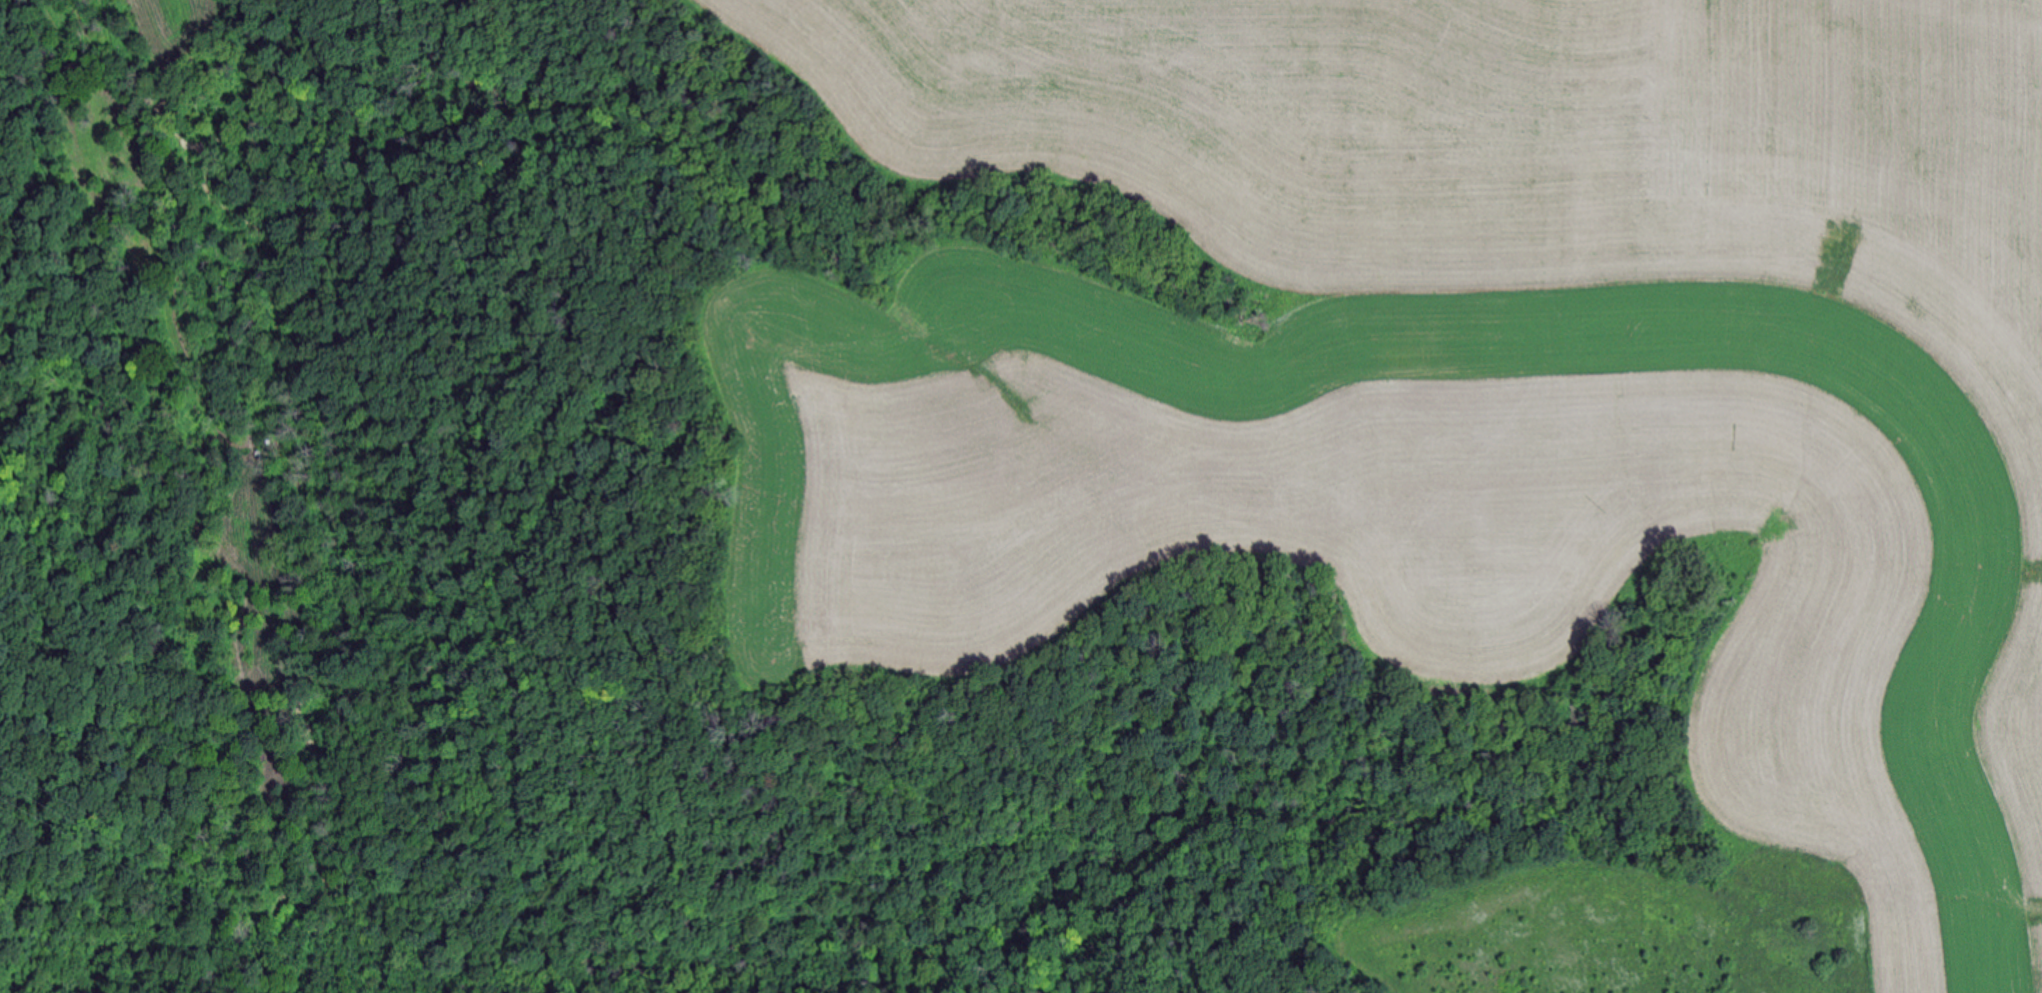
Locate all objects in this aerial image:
building: (242, 534)

